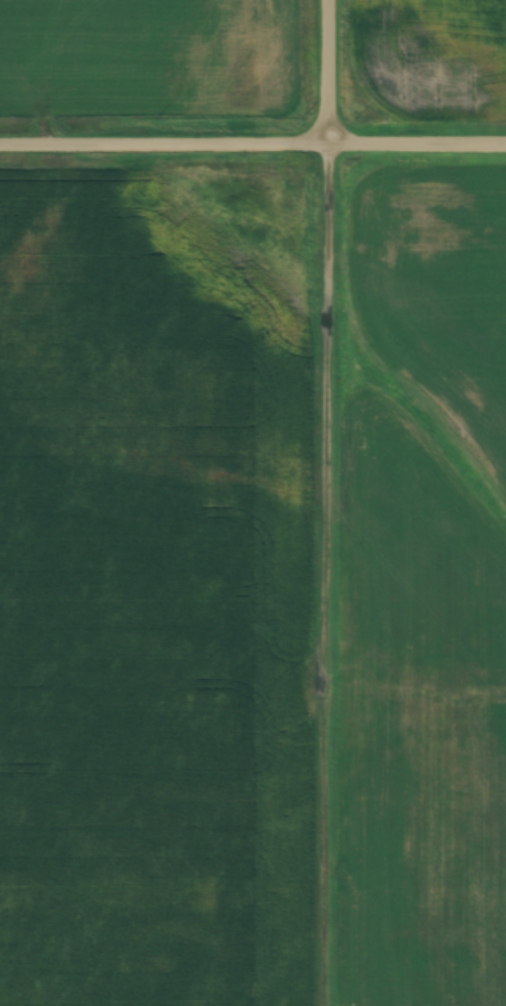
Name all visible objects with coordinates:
road: (253, 147)
road: (330, 503)

